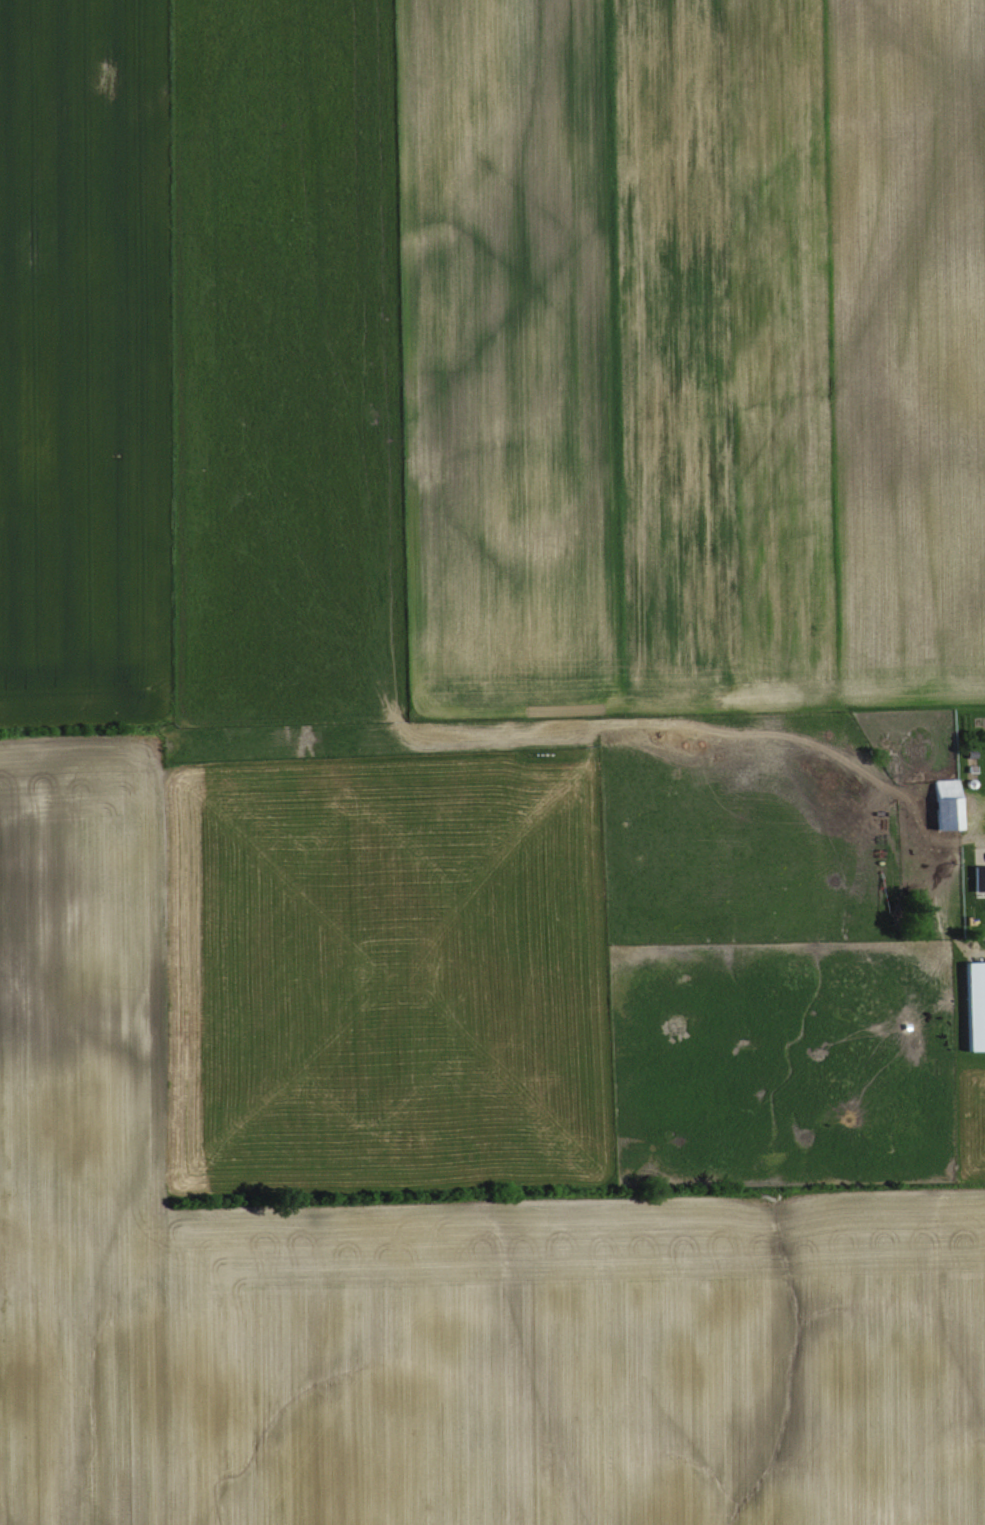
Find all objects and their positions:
building: (971, 1005)

